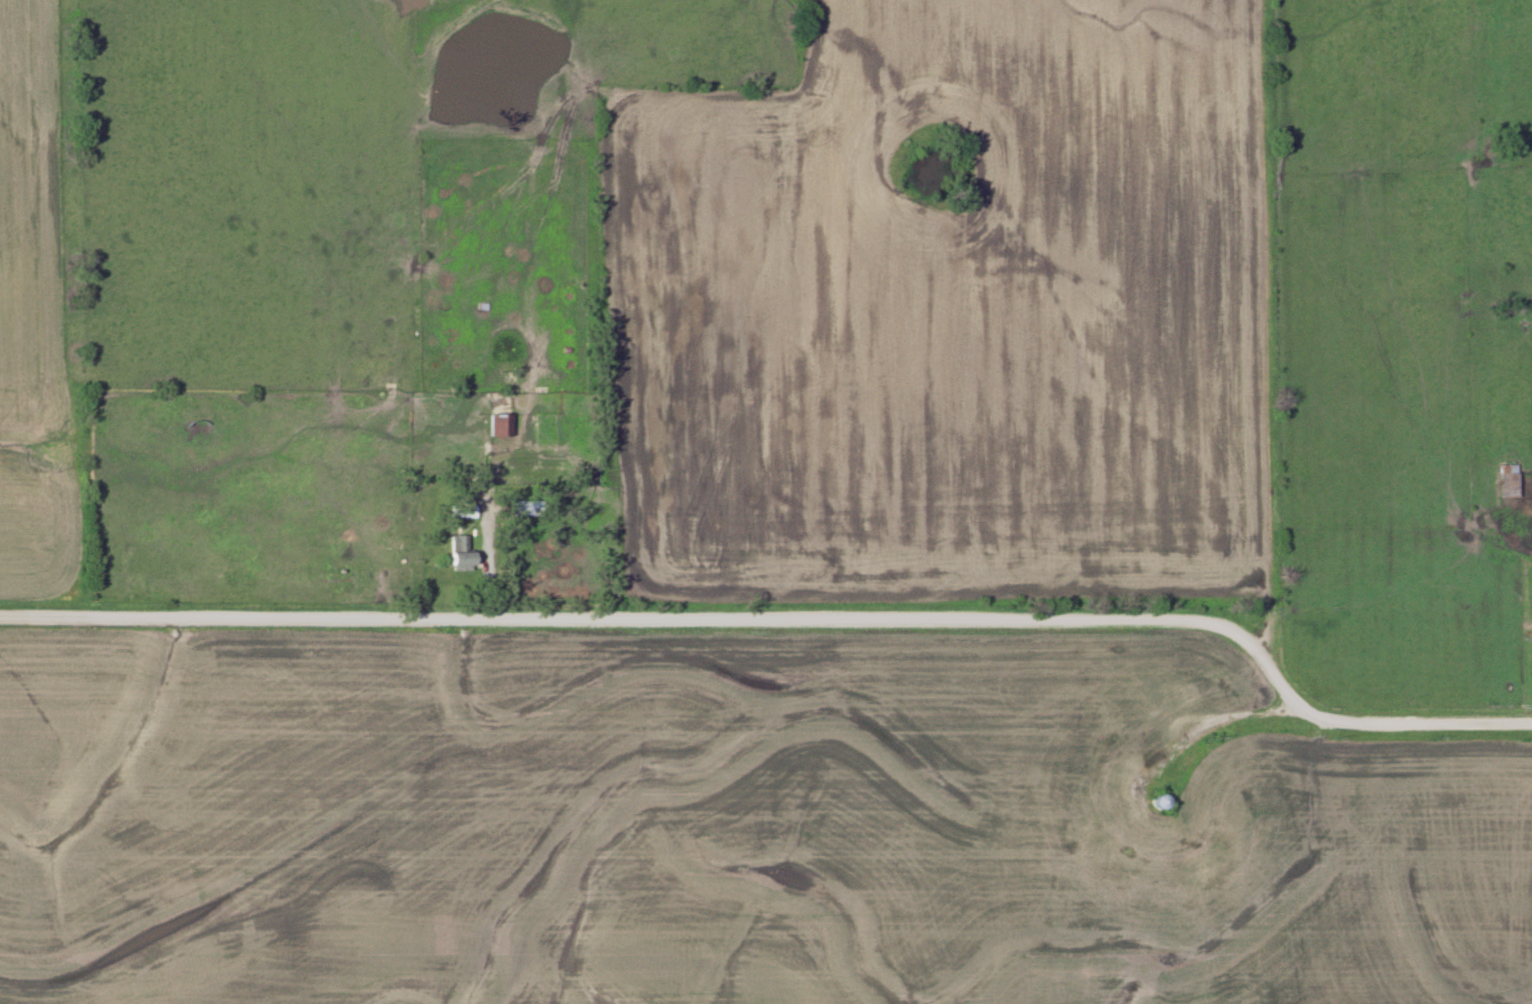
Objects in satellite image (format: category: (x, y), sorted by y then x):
building: (1506, 481)
building: (460, 556)
road: (786, 620)
road: (1198, 725)
building: (1129, 758)
building: (1133, 835)
building: (1217, 844)

